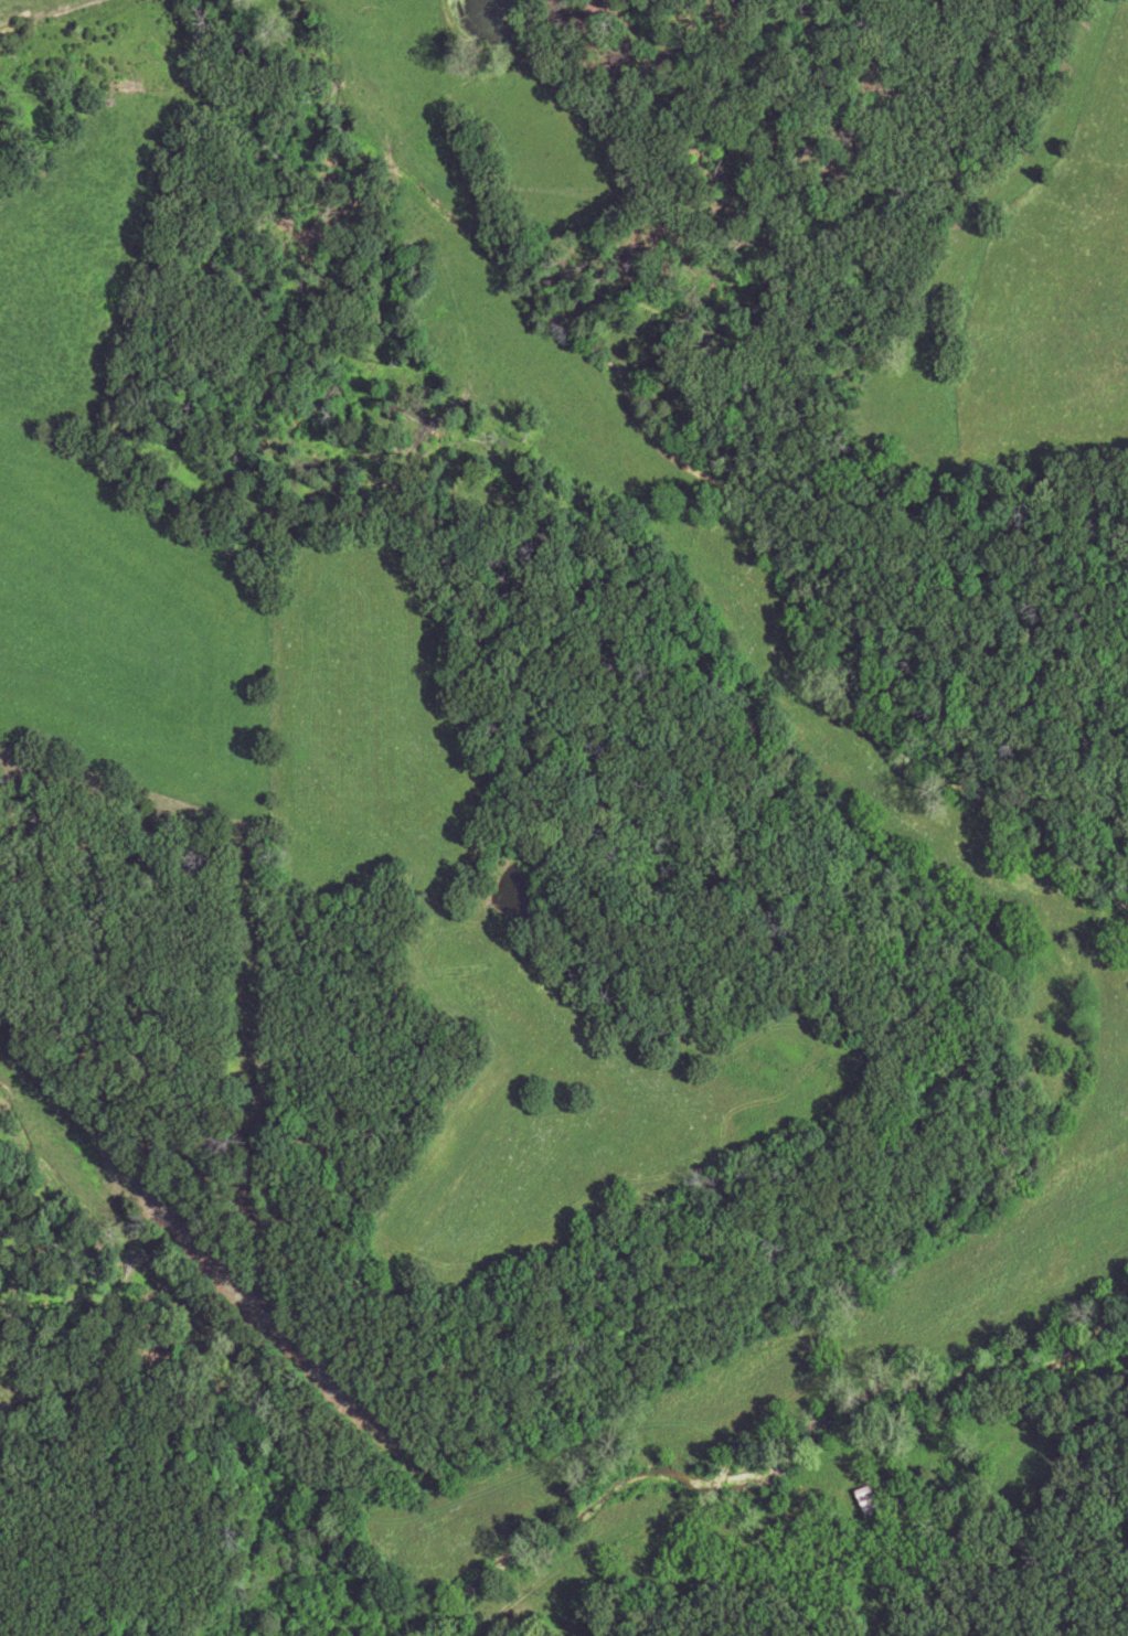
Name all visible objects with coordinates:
building: (866, 1500)

